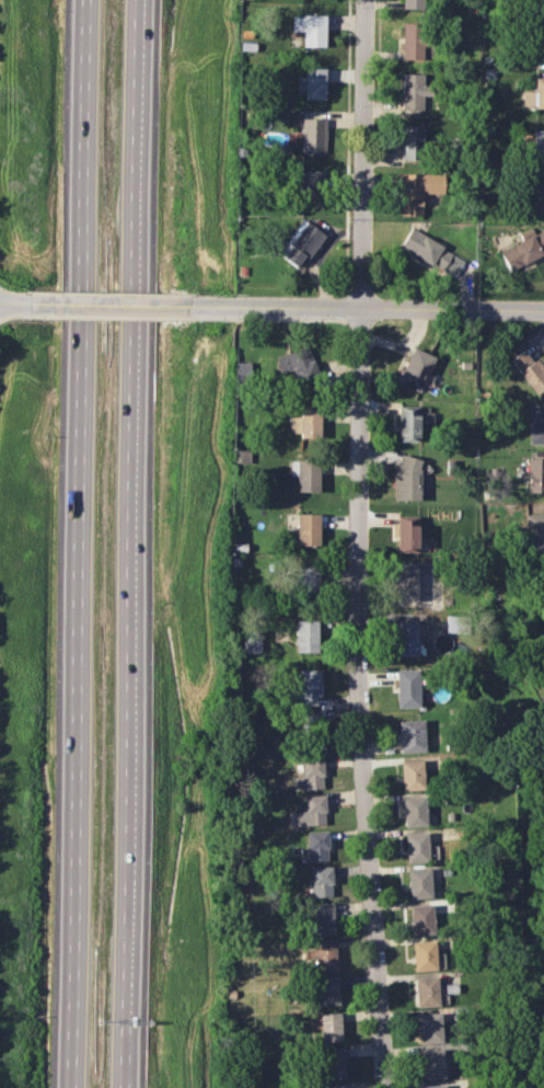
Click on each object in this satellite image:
building: (413, 3)
building: (310, 28)
building: (414, 41)
building: (539, 43)
building: (313, 83)
building: (413, 91)
building: (534, 94)
building: (313, 135)
building: (410, 141)
building: (537, 145)
building: (311, 188)
building: (417, 191)
building: (537, 197)
building: (300, 243)
building: (523, 249)
building: (431, 252)
road: (12, 301)
road: (108, 304)
road: (368, 309)
building: (297, 364)
building: (242, 369)
building: (416, 369)
building: (530, 370)
building: (306, 422)
building: (408, 423)
building: (536, 424)
building: (305, 474)
building: (535, 474)
building: (407, 478)
building: (308, 528)
building: (534, 531)
building: (406, 532)
road: (80, 543)
road: (130, 543)
road: (354, 543)
building: (543, 570)
building: (306, 580)
building: (405, 581)
building: (305, 635)
building: (406, 639)
building: (251, 644)
building: (308, 687)
building: (406, 687)
building: (306, 719)
building: (410, 735)
building: (315, 744)
building: (309, 775)
building: (412, 775)
building: (414, 811)
building: (309, 812)
building: (316, 846)
building: (416, 847)
building: (321, 881)
building: (419, 883)
building: (322, 918)
building: (421, 919)
building: (325, 954)
building: (424, 955)
building: (327, 990)
building: (426, 990)
building: (331, 1027)
building: (429, 1027)
building: (333, 1063)
building: (431, 1063)
building: (335, 1086)
building: (433, 1086)

